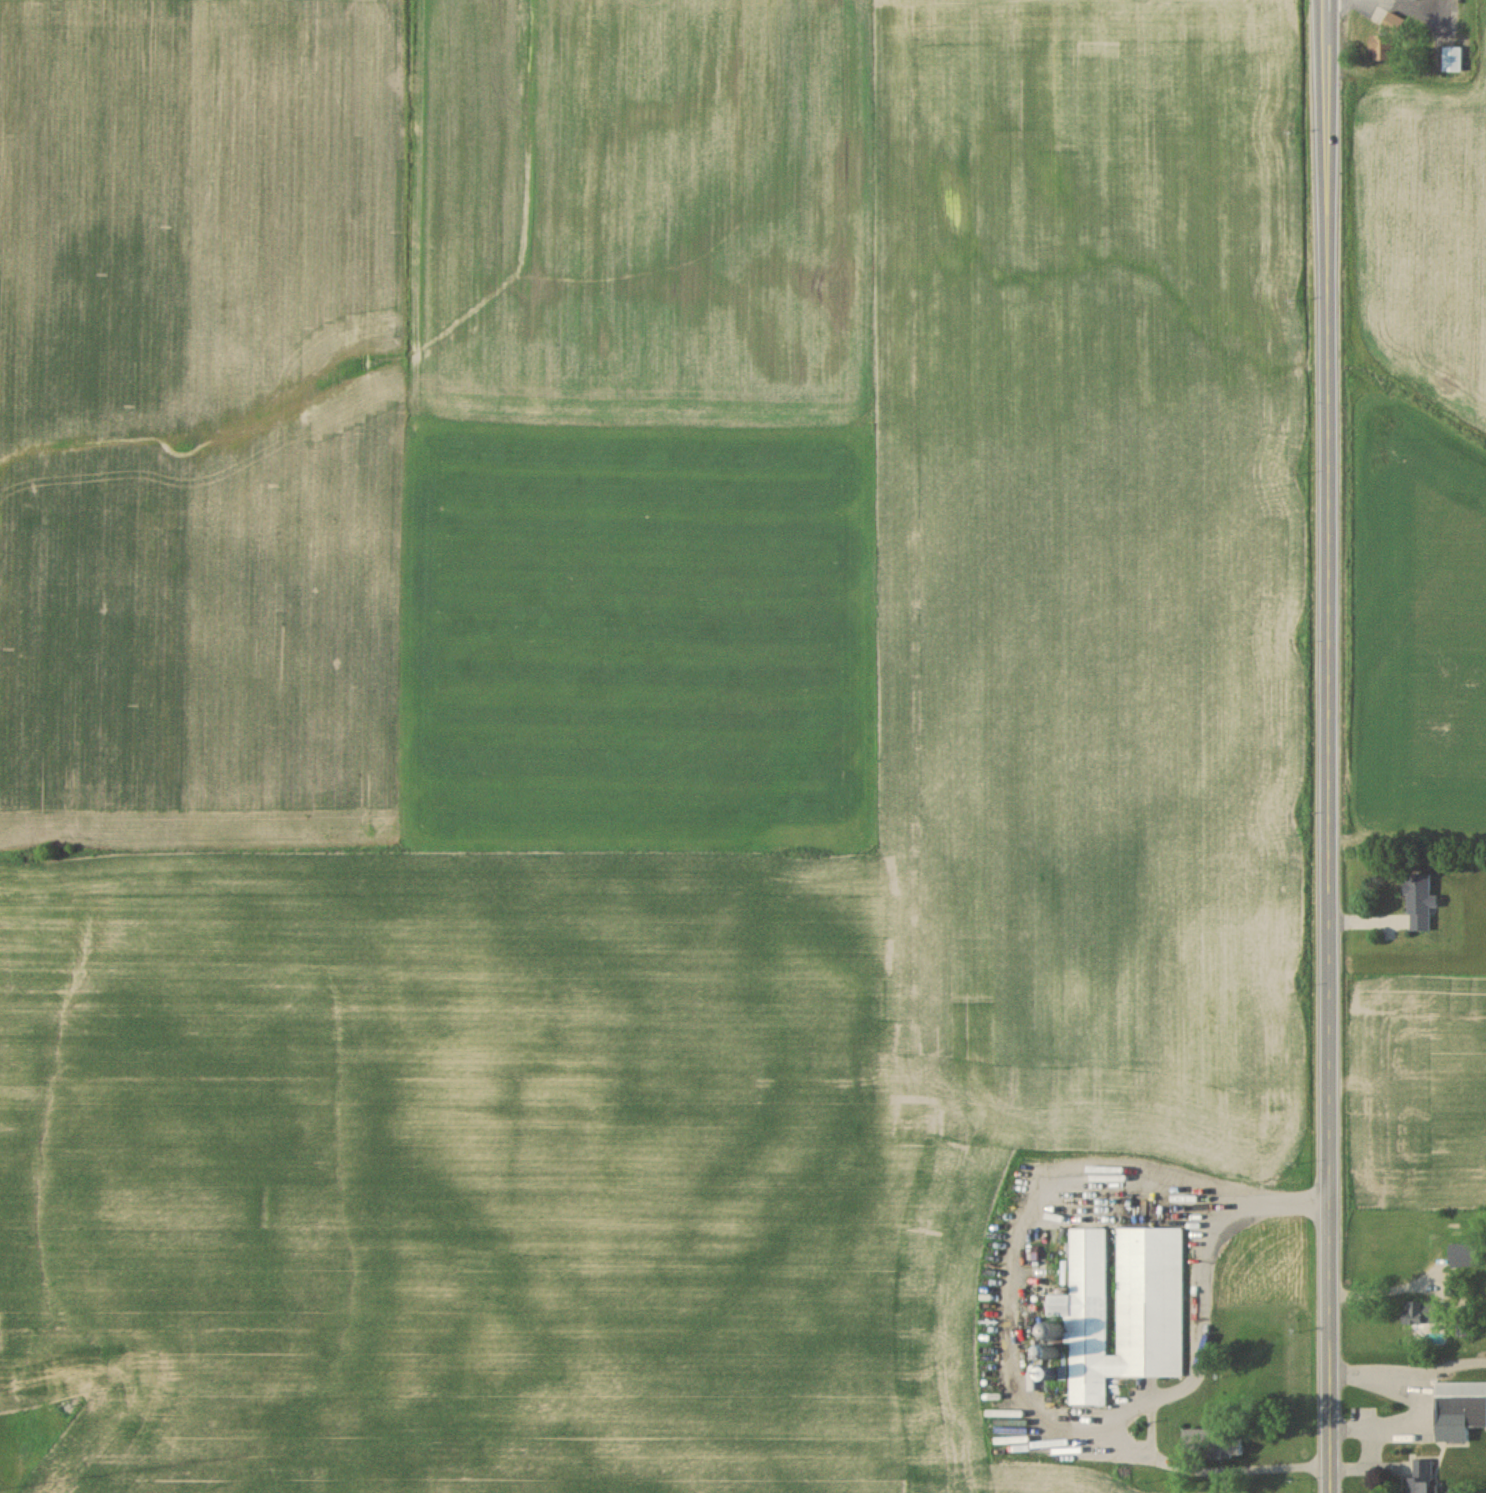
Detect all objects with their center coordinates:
road: (1403, 7)
building: (1386, 37)
building: (1451, 57)
road: (1326, 746)
building: (1418, 900)
building: (1464, 1253)
road: (1385, 1288)
building: (1123, 1307)
building: (1422, 1311)
building: (1466, 1326)
road: (1169, 1392)
building: (1459, 1408)
road: (1150, 1427)
building: (1419, 1477)

